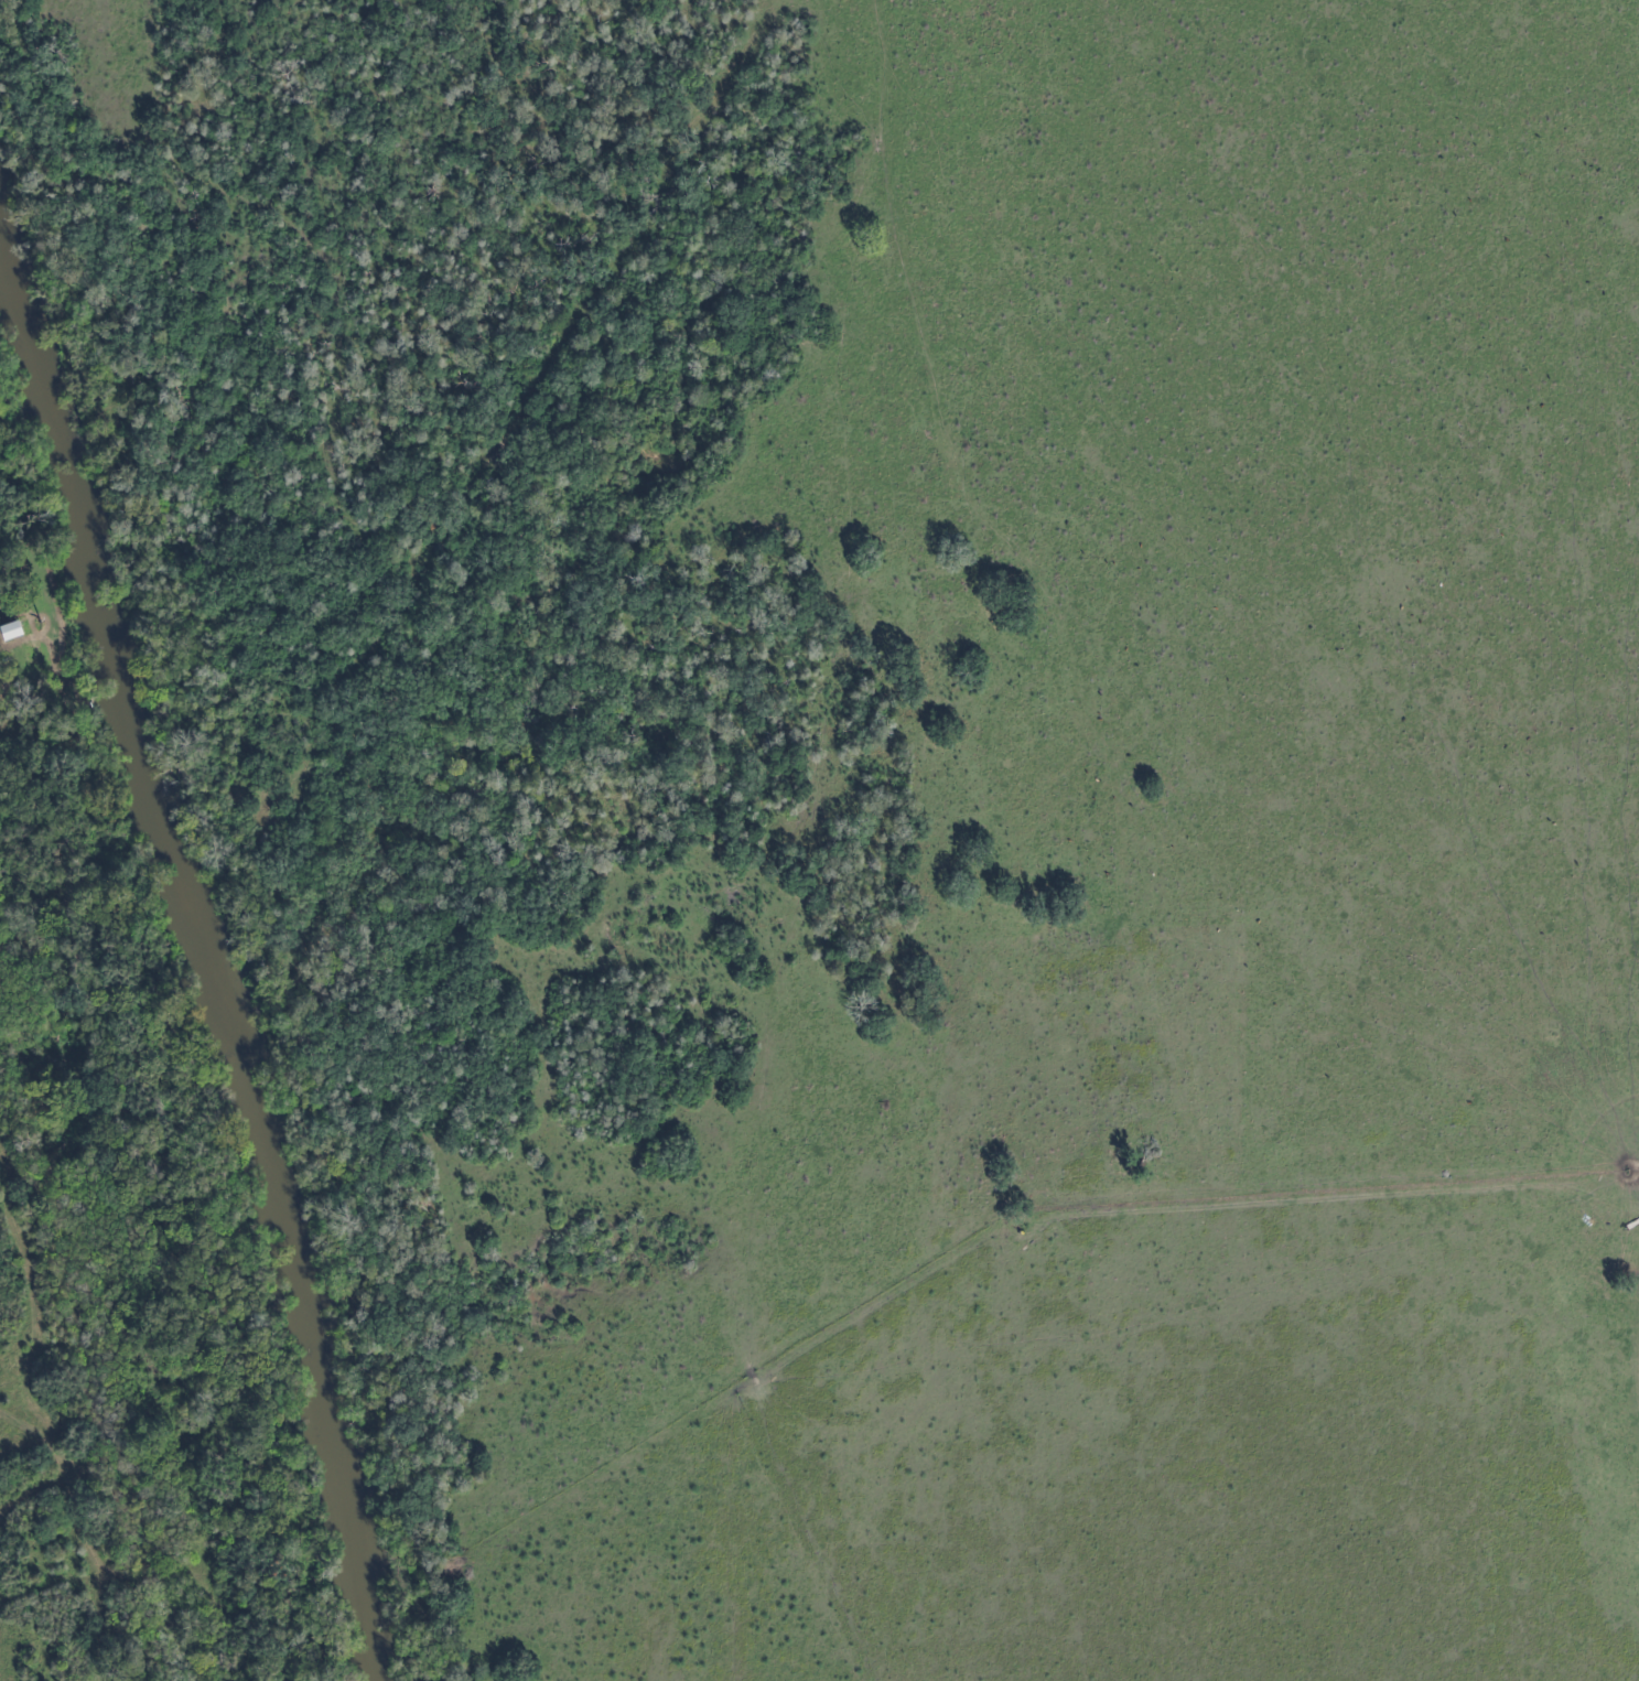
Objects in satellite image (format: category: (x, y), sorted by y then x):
park: (596, 808)
river: (201, 919)

